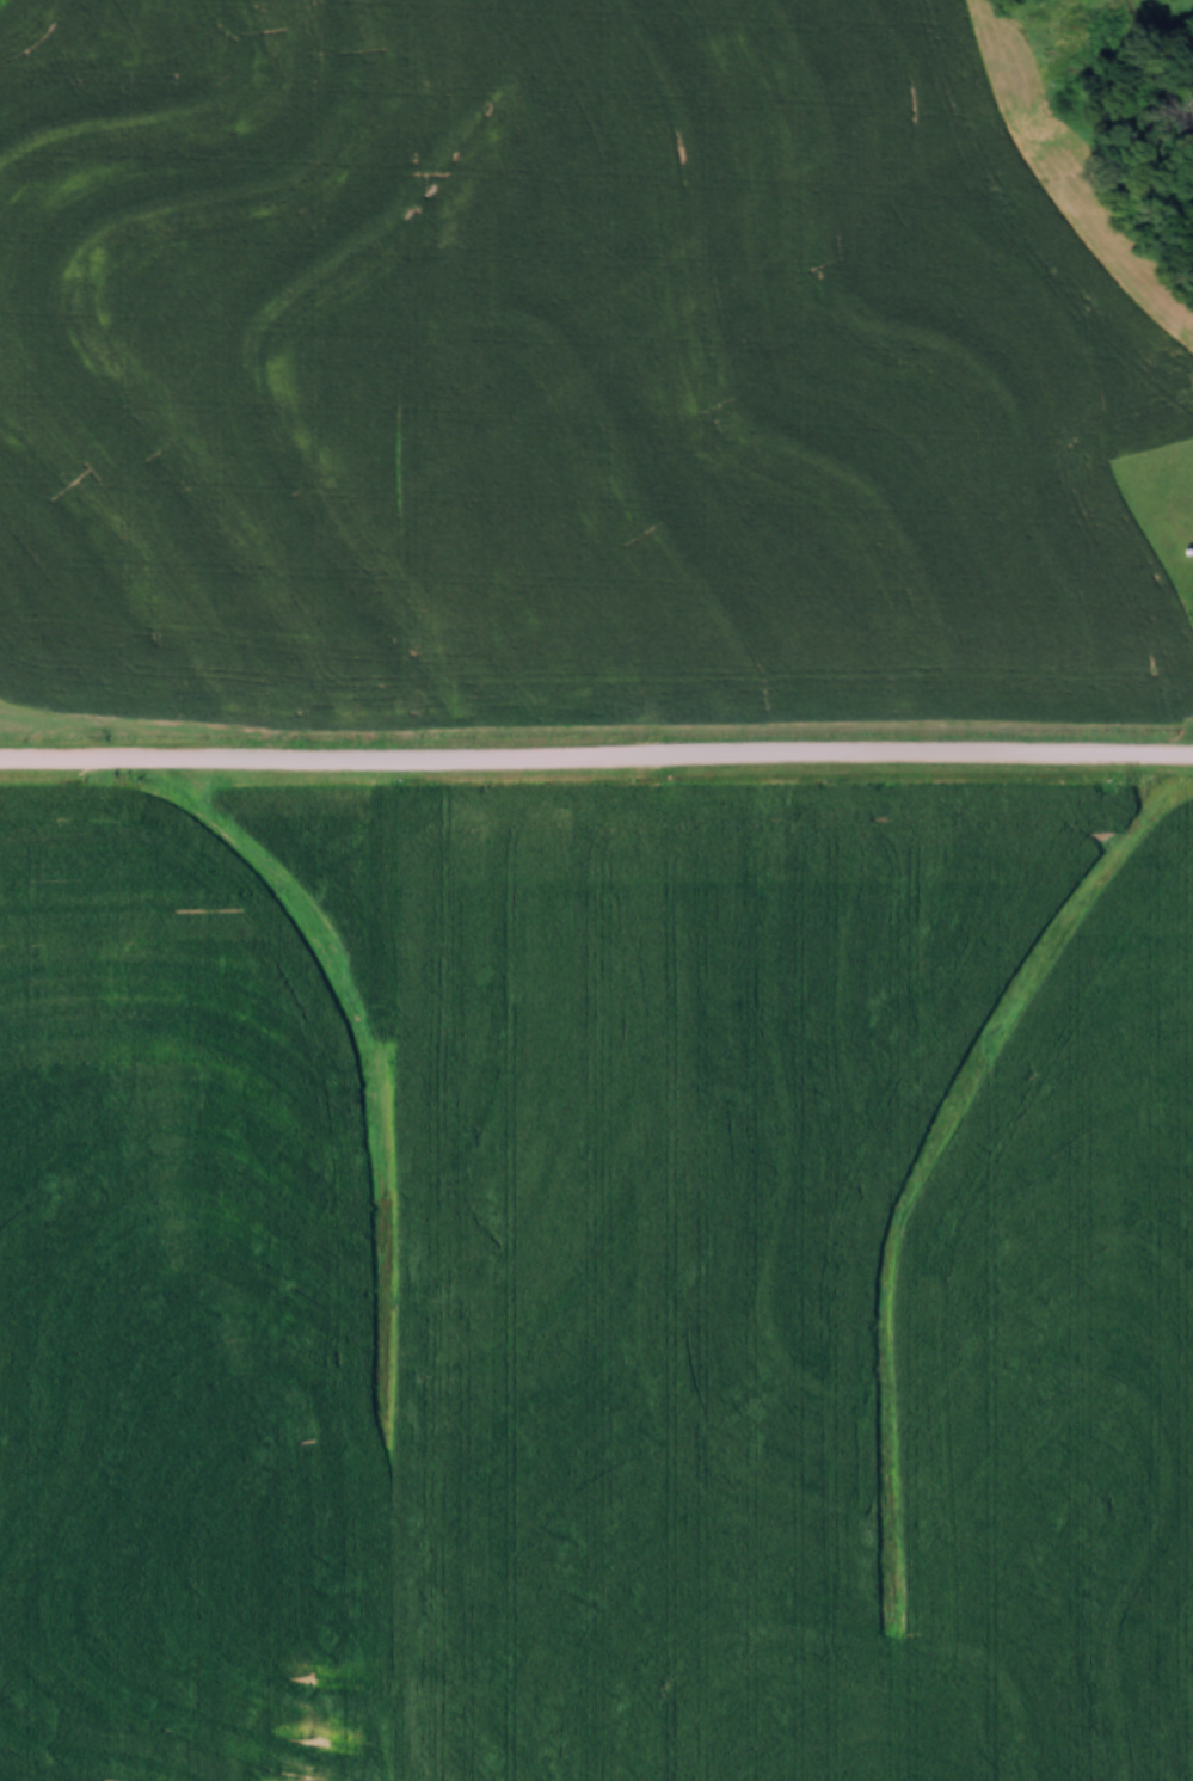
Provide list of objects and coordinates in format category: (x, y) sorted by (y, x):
road: (596, 759)

